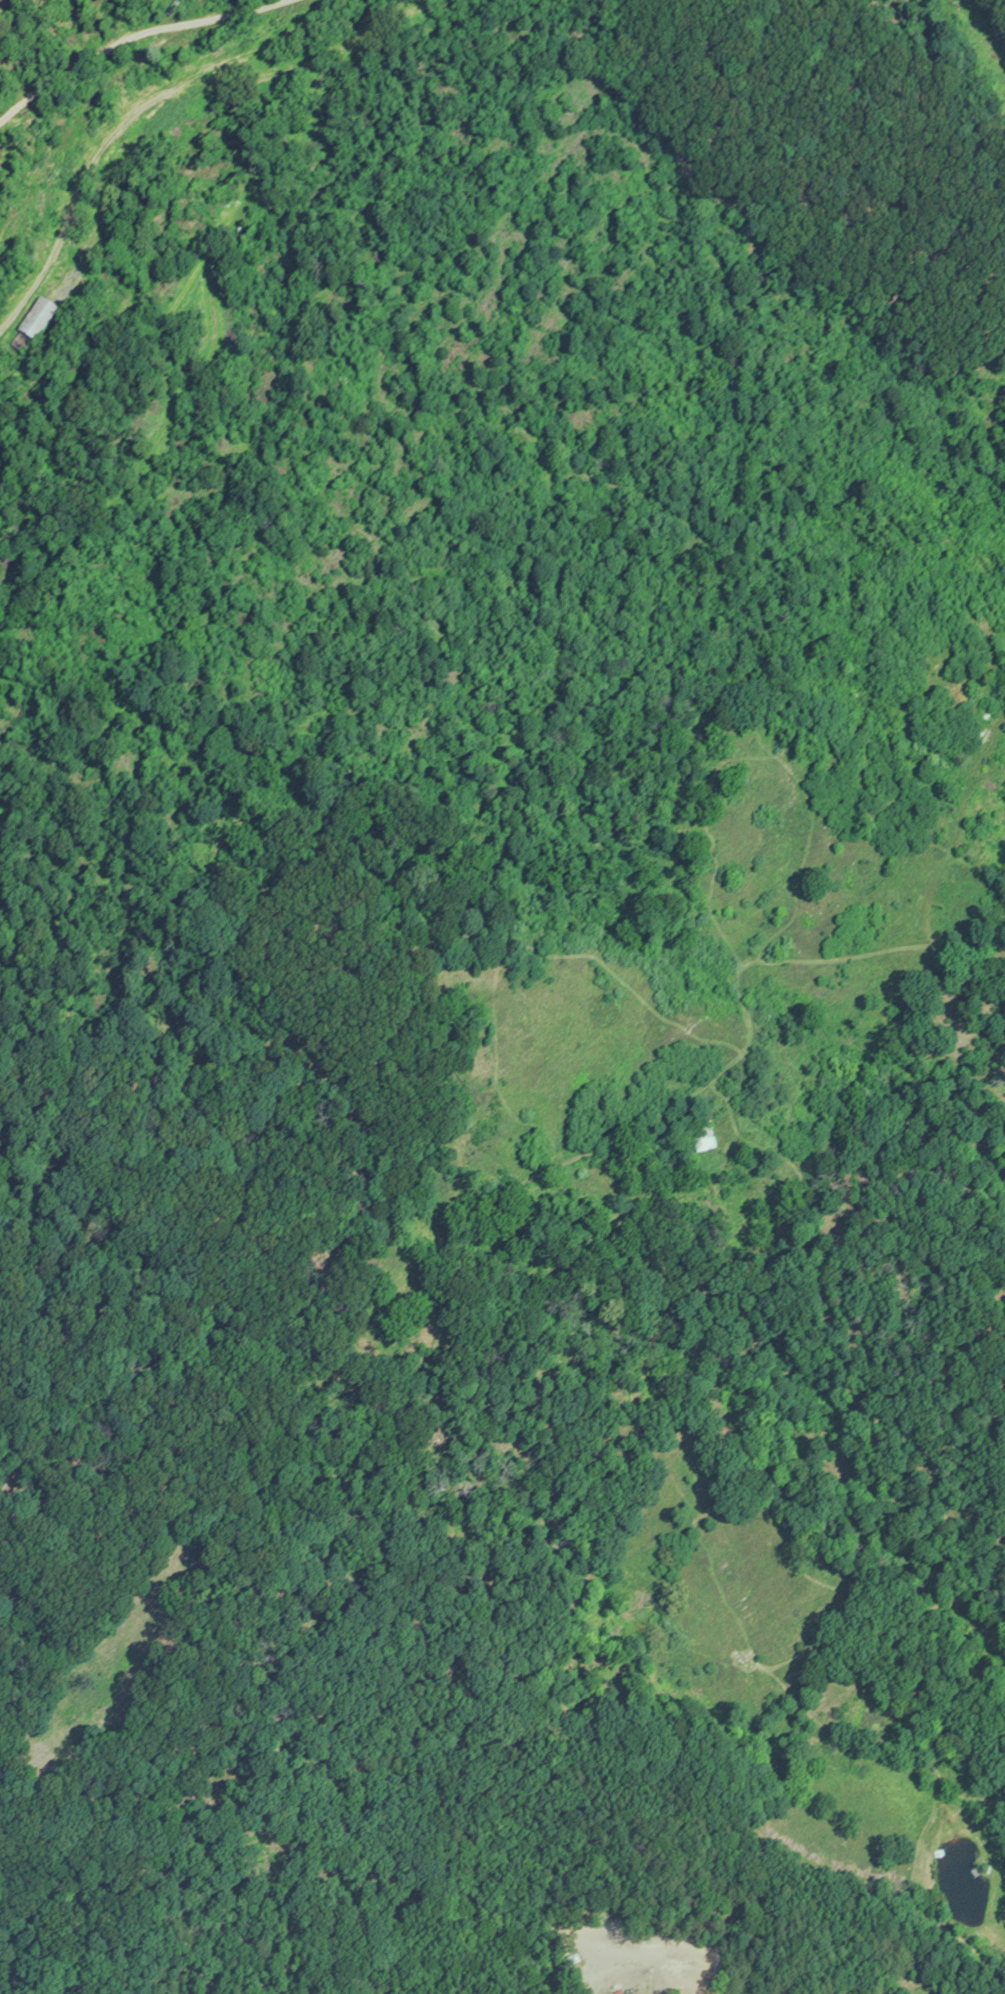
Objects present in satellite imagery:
road: (111, 107)

